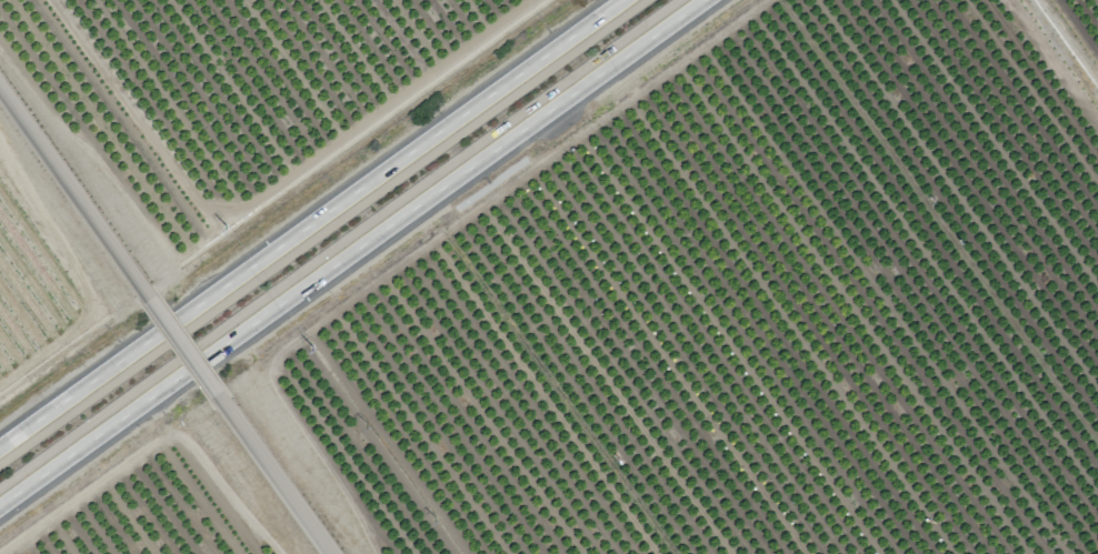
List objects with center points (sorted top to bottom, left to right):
road: (76, 195)
road: (318, 226)
road: (357, 255)
road: (186, 353)
road: (274, 476)

